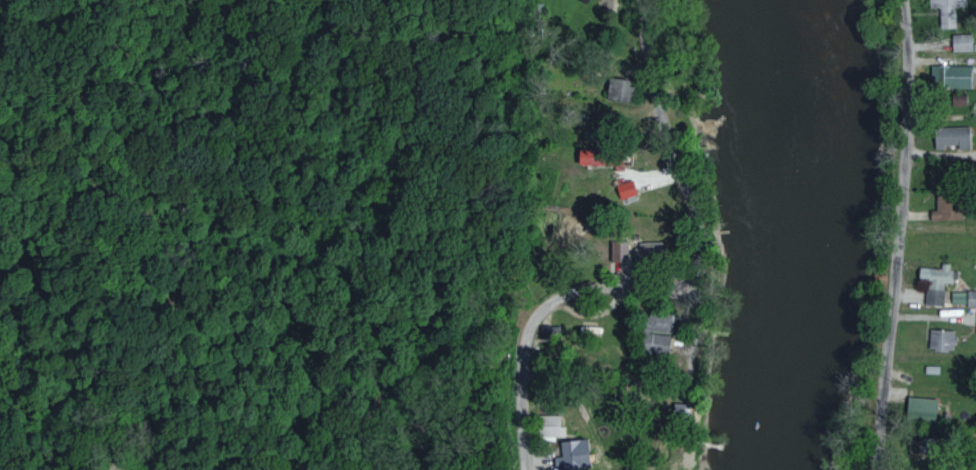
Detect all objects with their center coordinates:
building: (947, 10)
building: (960, 42)
building: (949, 76)
building: (618, 88)
building: (957, 100)
building: (951, 137)
building: (624, 189)
building: (943, 213)
river: (800, 233)
road: (898, 234)
building: (649, 248)
building: (618, 251)
building: (933, 283)
road: (674, 286)
building: (956, 297)
building: (970, 297)
road: (697, 320)
building: (975, 324)
building: (654, 334)
building: (939, 339)
building: (919, 408)
building: (549, 425)
building: (571, 455)

